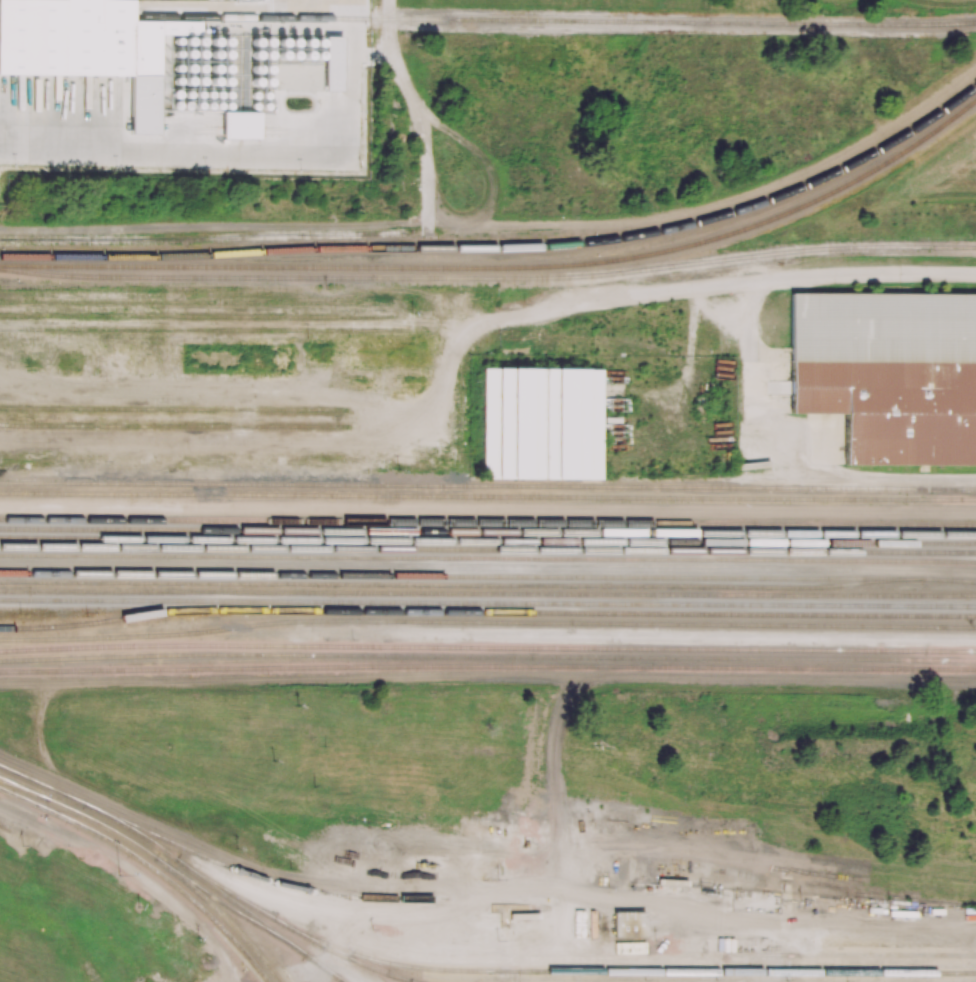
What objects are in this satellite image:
park: (607, 4)
railway: (558, 21)
road: (414, 107)
railway: (71, 239)
railway: (504, 247)
railway: (507, 268)
railway: (488, 277)
road: (735, 281)
railway: (121, 287)
railway: (197, 302)
railway: (197, 317)
building: (884, 327)
railway: (188, 329)
road: (752, 342)
road: (445, 377)
building: (894, 408)
railway: (173, 409)
building: (542, 423)
railway: (172, 426)
railway: (488, 486)
railway: (487, 497)
railway: (487, 506)
railway: (487, 515)
railway: (488, 521)
railway: (488, 531)
railway: (487, 541)
railway: (488, 549)
railway: (488, 558)
railway: (442, 567)
railway: (488, 576)
railway: (441, 584)
railway: (488, 593)
railway: (488, 603)
railway: (487, 612)
railway: (487, 623)
railway: (487, 647)
railway: (74, 649)
railway: (487, 657)
railway: (487, 666)
railway: (13, 785)
railway: (145, 849)
railway: (213, 861)
railway: (148, 865)
railway: (231, 897)
road: (634, 901)
railway: (237, 928)
railway: (359, 962)
road: (322, 967)
railway: (584, 970)
railway: (409, 981)

